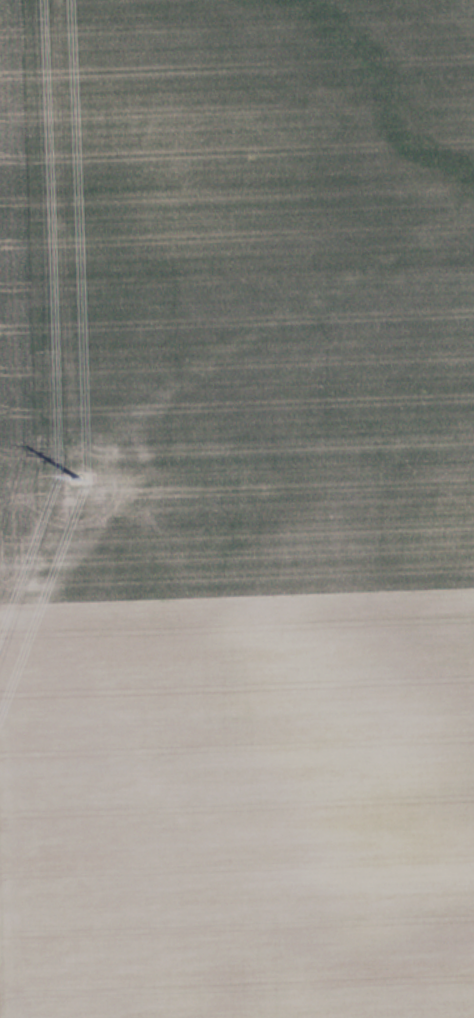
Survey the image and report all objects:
power tower: (78, 470)

